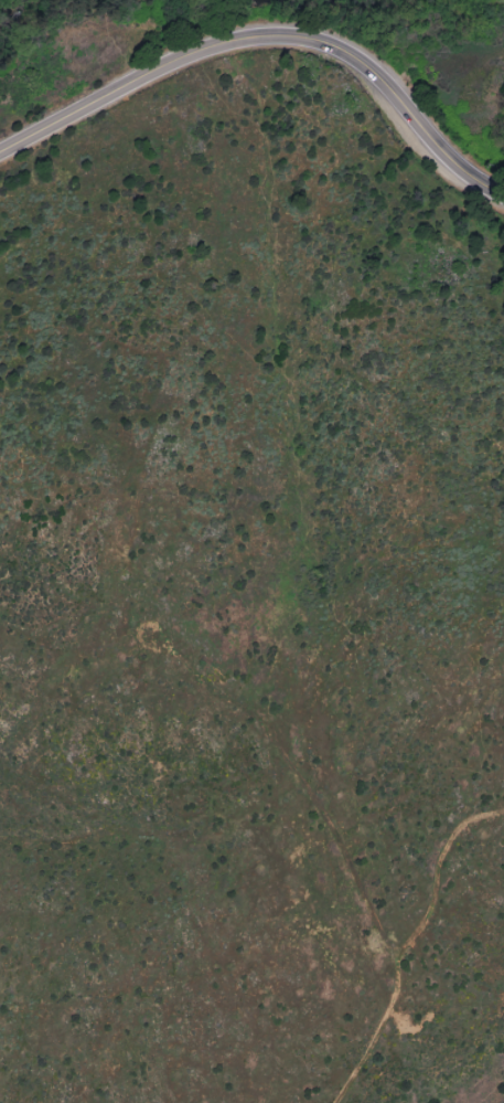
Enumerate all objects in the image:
road: (265, 42)

